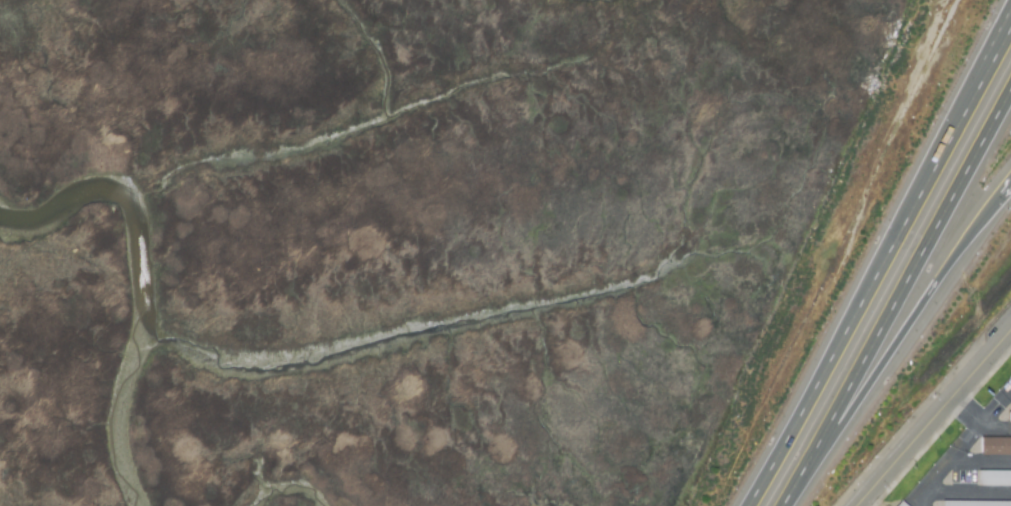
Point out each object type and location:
road: (985, 56)
road: (1005, 188)
road: (880, 265)
road: (897, 295)
road: (890, 348)
road: (1010, 393)
road: (996, 407)
road: (966, 410)
road: (932, 416)
building: (1009, 416)
road: (994, 431)
building: (996, 446)
road: (981, 461)
building: (994, 478)
road: (922, 492)
road: (782, 505)

